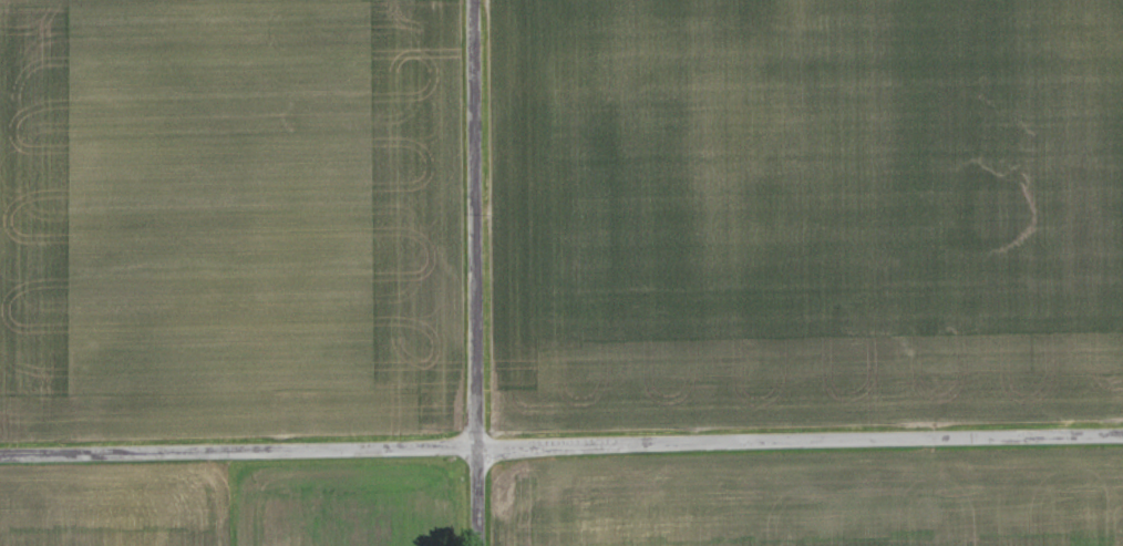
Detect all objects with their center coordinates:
road: (473, 272)
road: (560, 449)

